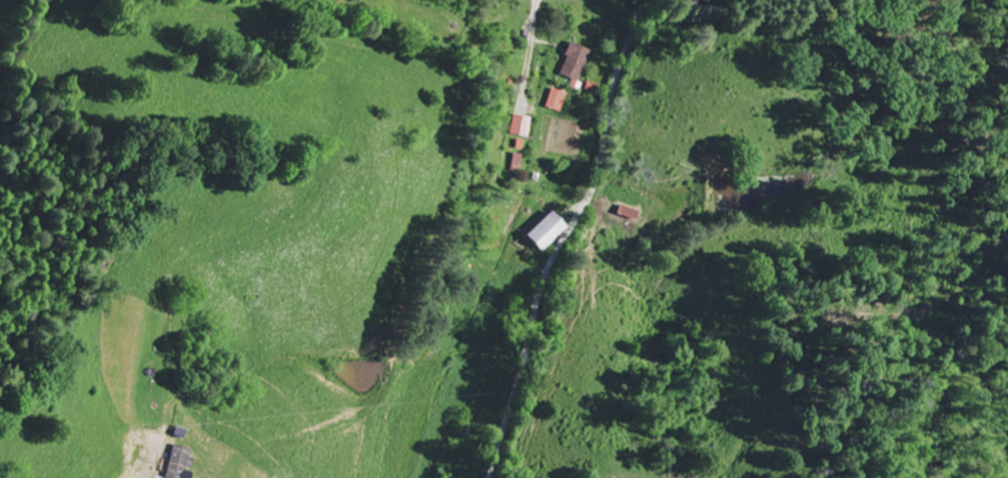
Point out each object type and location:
building: (577, 64)
building: (559, 101)
building: (524, 126)
building: (552, 232)
road: (567, 237)
building: (182, 462)

